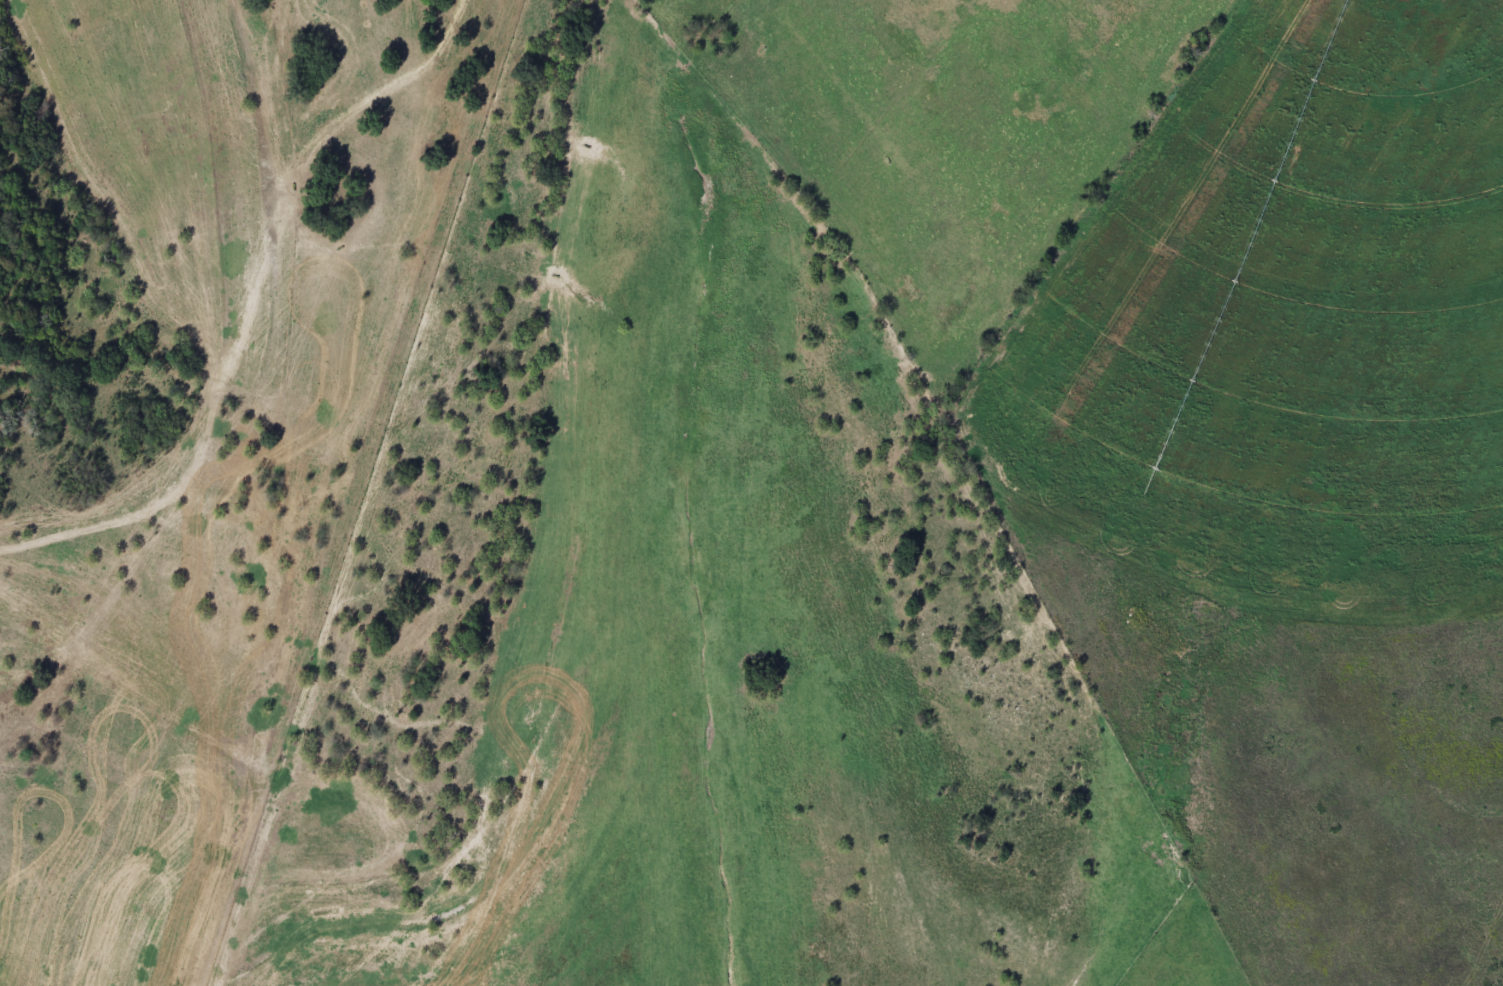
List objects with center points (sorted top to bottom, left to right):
road: (513, 33)

